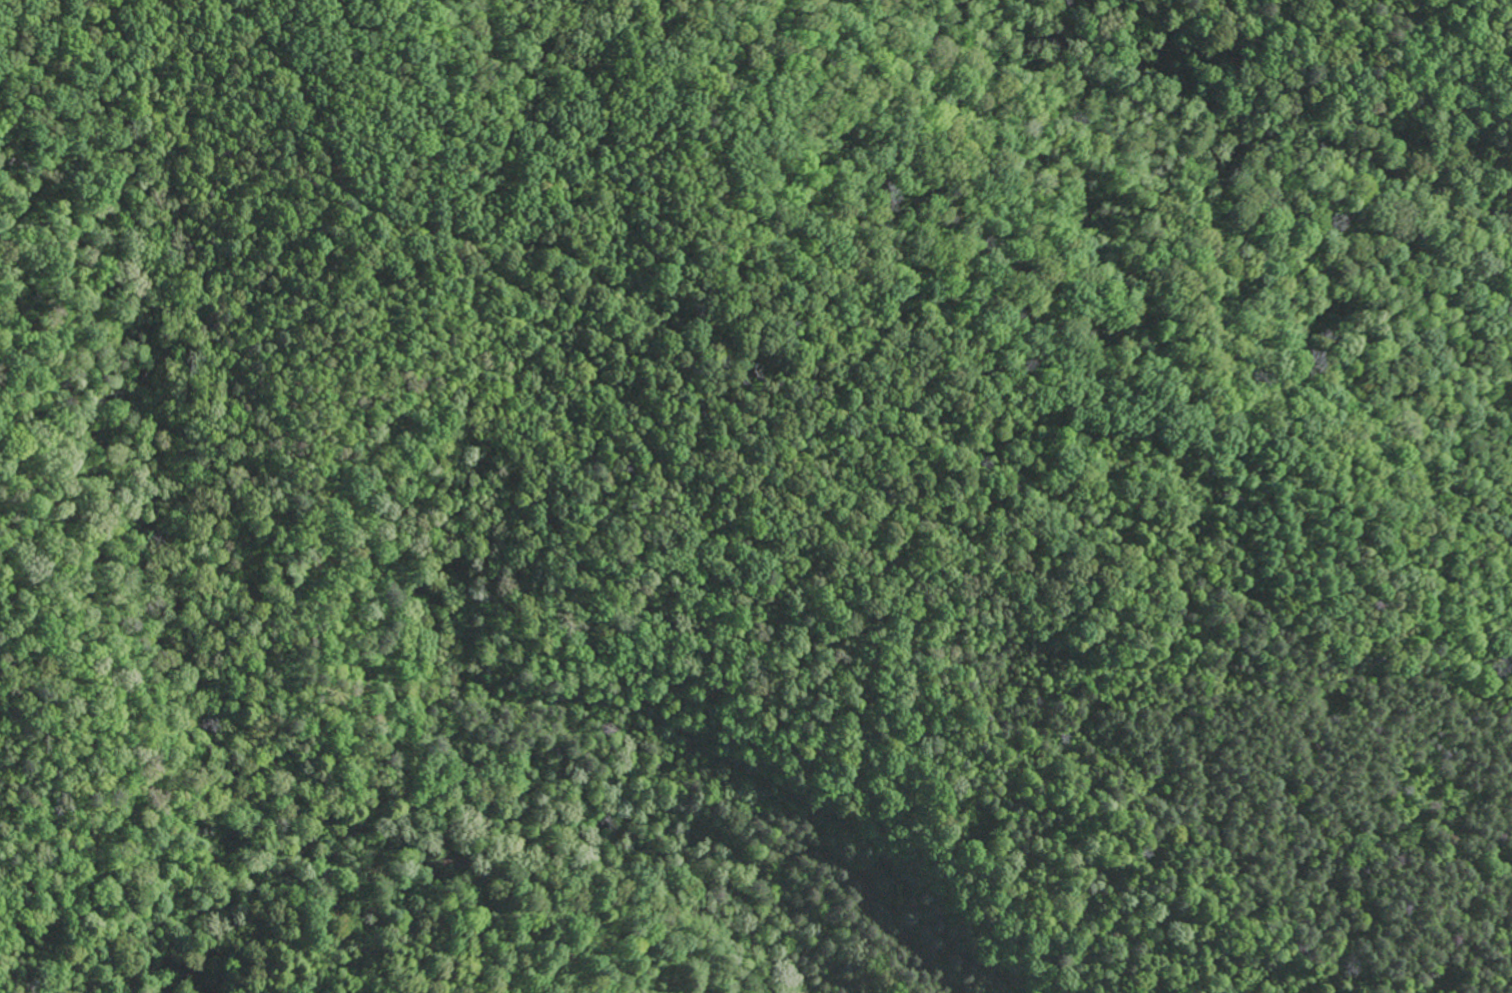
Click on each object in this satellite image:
road: (1281, 112)
road: (475, 133)
road: (335, 191)

